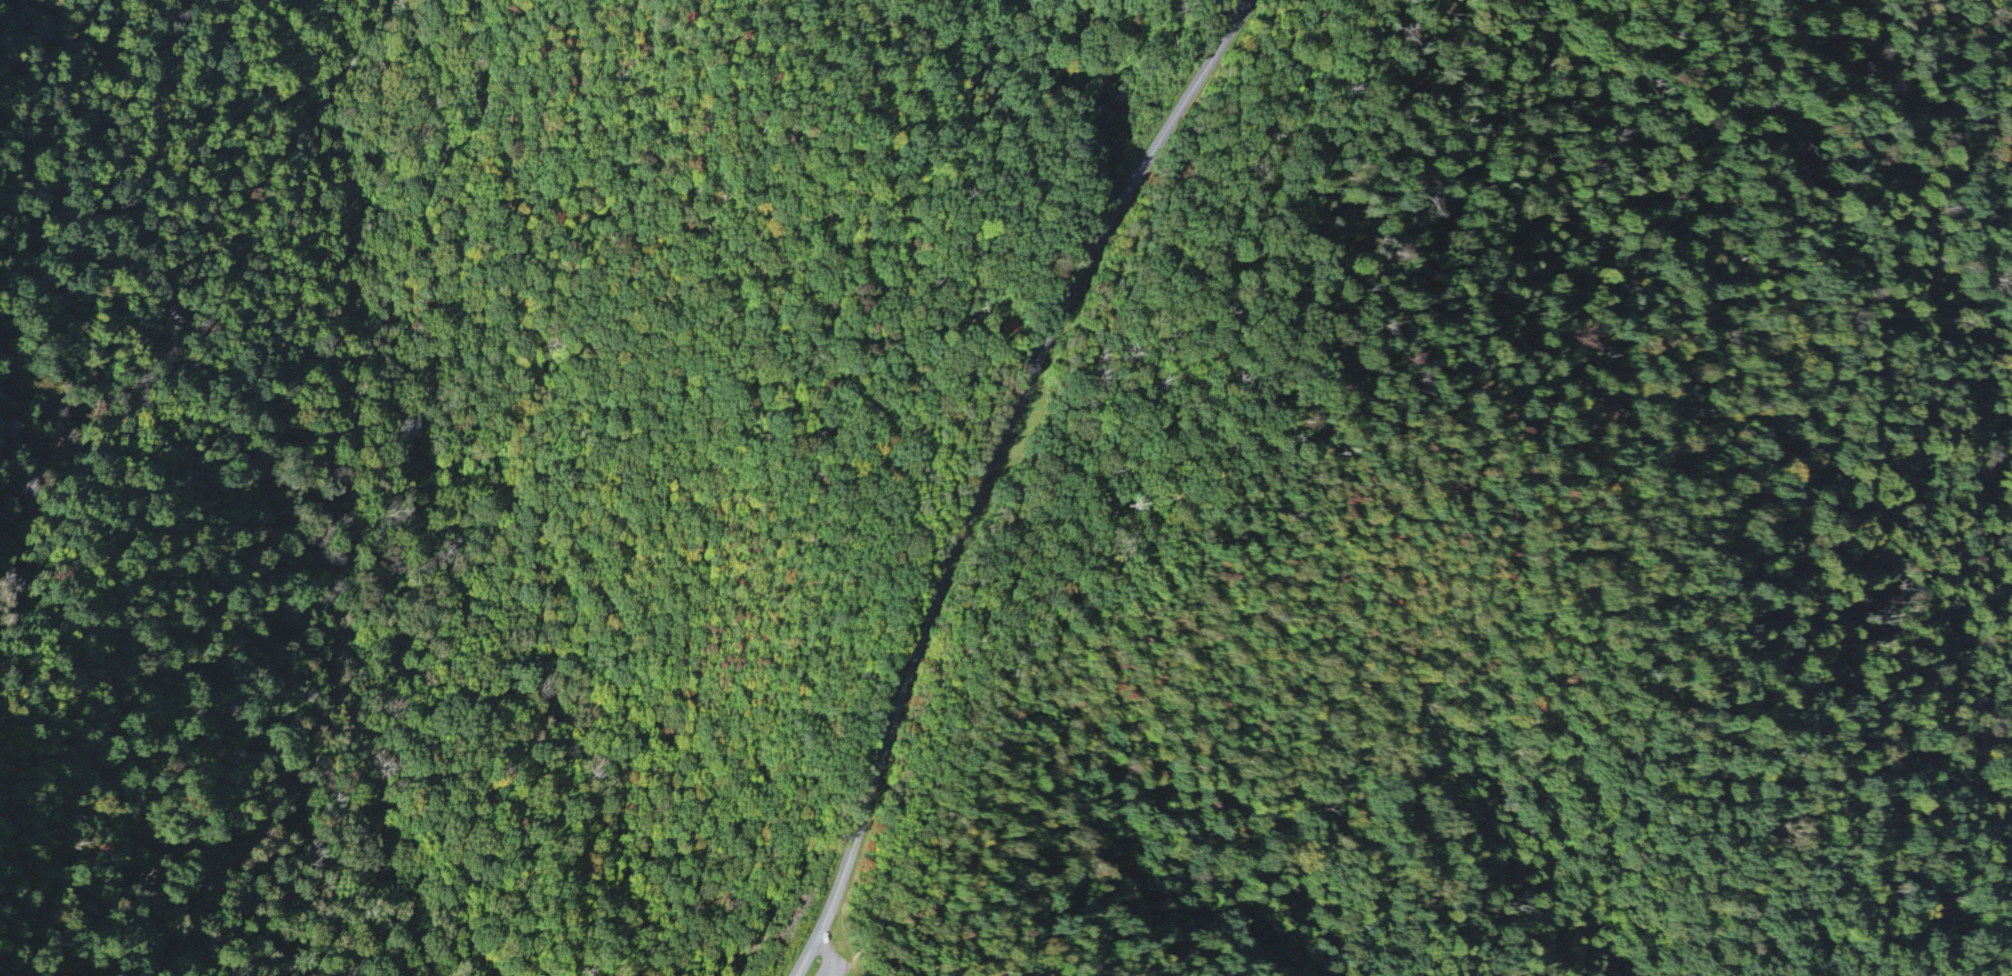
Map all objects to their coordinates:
road: (1249, 3)
road: (1205, 442)
road: (991, 472)
road: (411, 510)
road: (833, 950)

